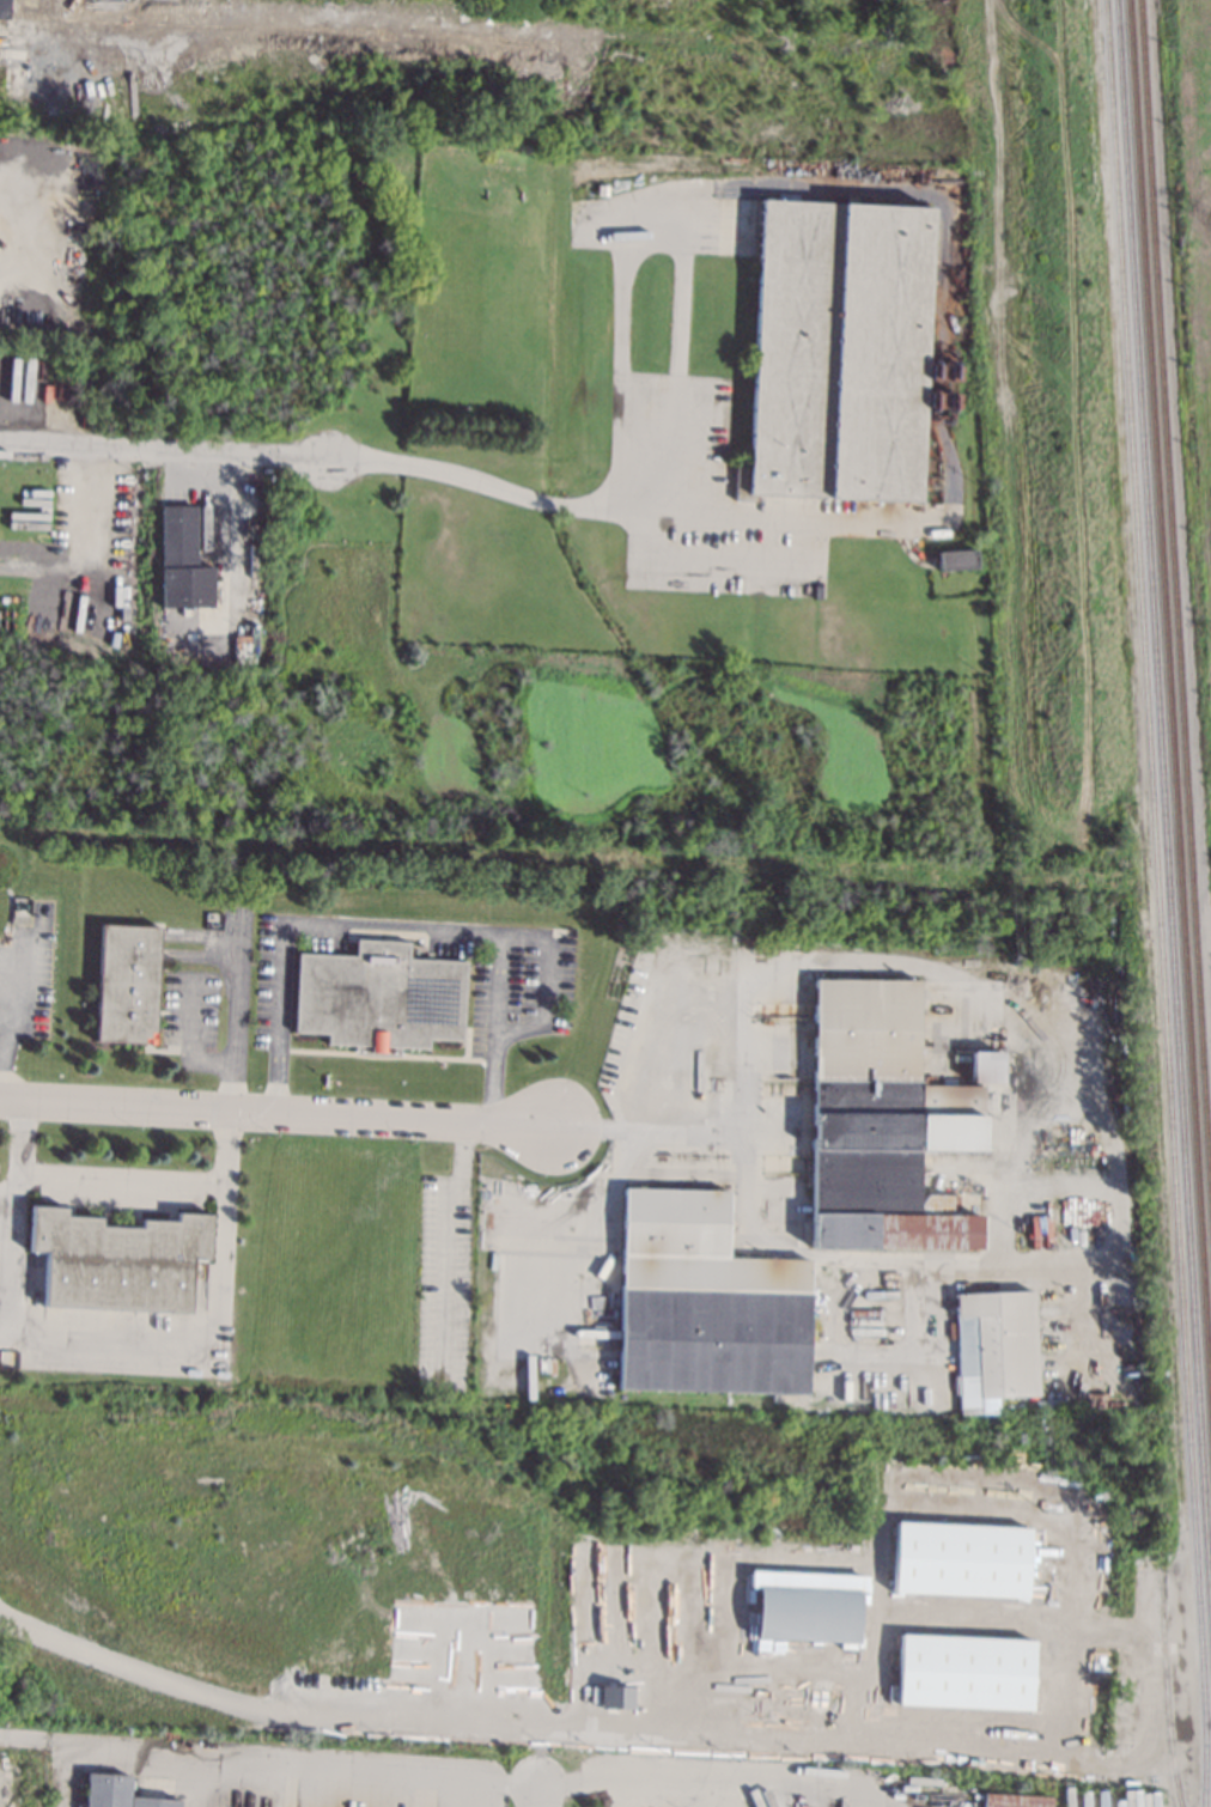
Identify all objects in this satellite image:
building: (4, 8)
building: (602, 189)
road: (621, 320)
building: (841, 352)
road: (166, 452)
road: (217, 509)
road: (579, 510)
road: (85, 548)
building: (181, 559)
parking lot: (728, 559)
building: (955, 559)
railway: (1175, 598)
railway: (1169, 708)
railway: (1163, 821)
railway: (1158, 902)
road: (389, 929)
building: (124, 984)
road: (544, 984)
building: (378, 998)
road: (233, 1018)
road: (8, 1020)
building: (985, 1066)
road: (284, 1111)
building: (881, 1121)
road: (713, 1132)
road: (121, 1185)
road: (14, 1198)
building: (117, 1260)
building: (705, 1301)
road: (217, 1333)
building: (993, 1347)
building: (960, 1558)
building: (850, 1569)
building: (807, 1613)
building: (816, 1672)
building: (964, 1672)
railway: (1166, 1681)
building: (615, 1697)
building: (821, 1698)
road: (235, 1702)
building: (863, 1708)
road: (23, 1739)
road: (268, 1759)
building: (117, 1793)
road: (537, 1797)
building: (1015, 1800)

